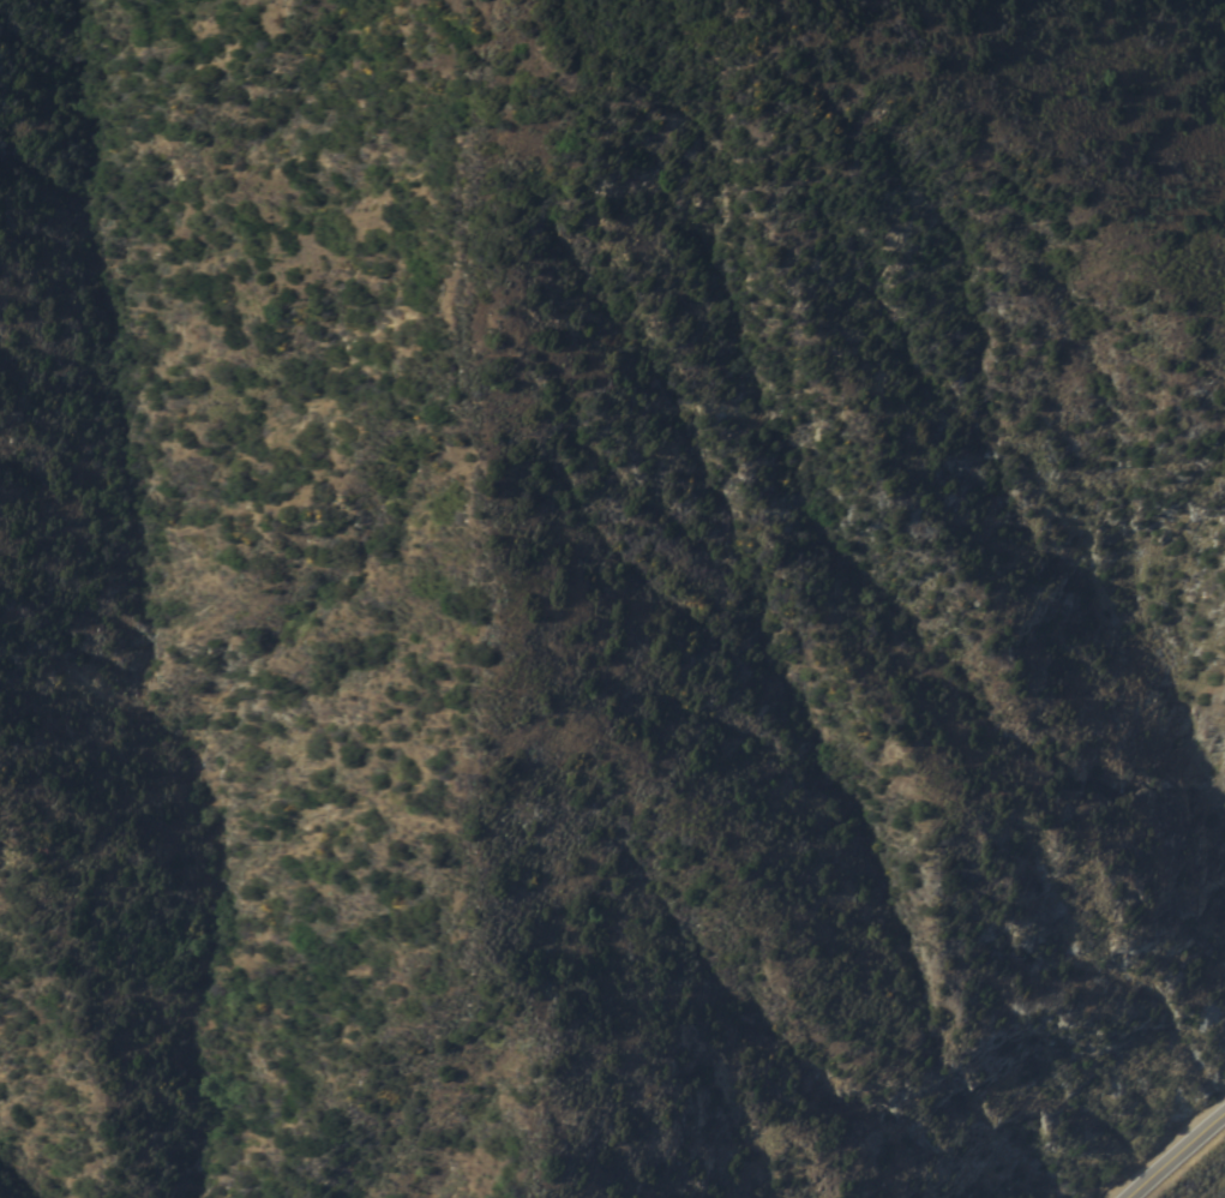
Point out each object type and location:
road: (1177, 1155)

